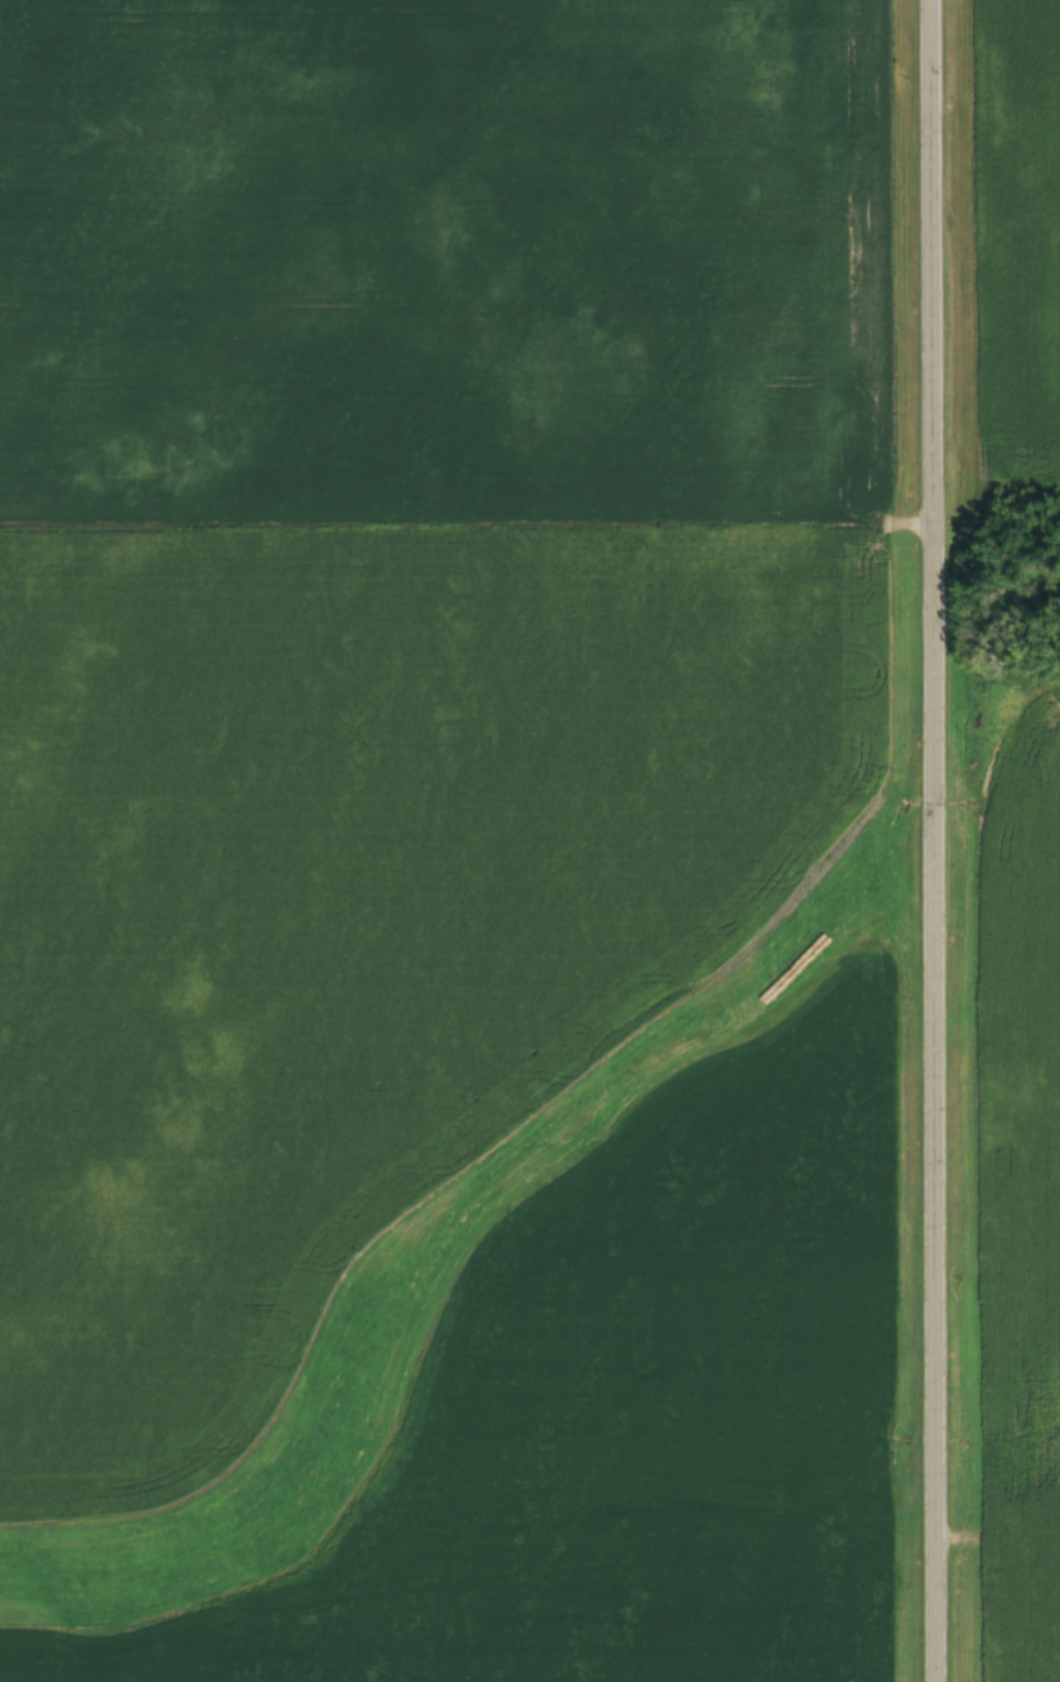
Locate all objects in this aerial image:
road: (966, 840)

